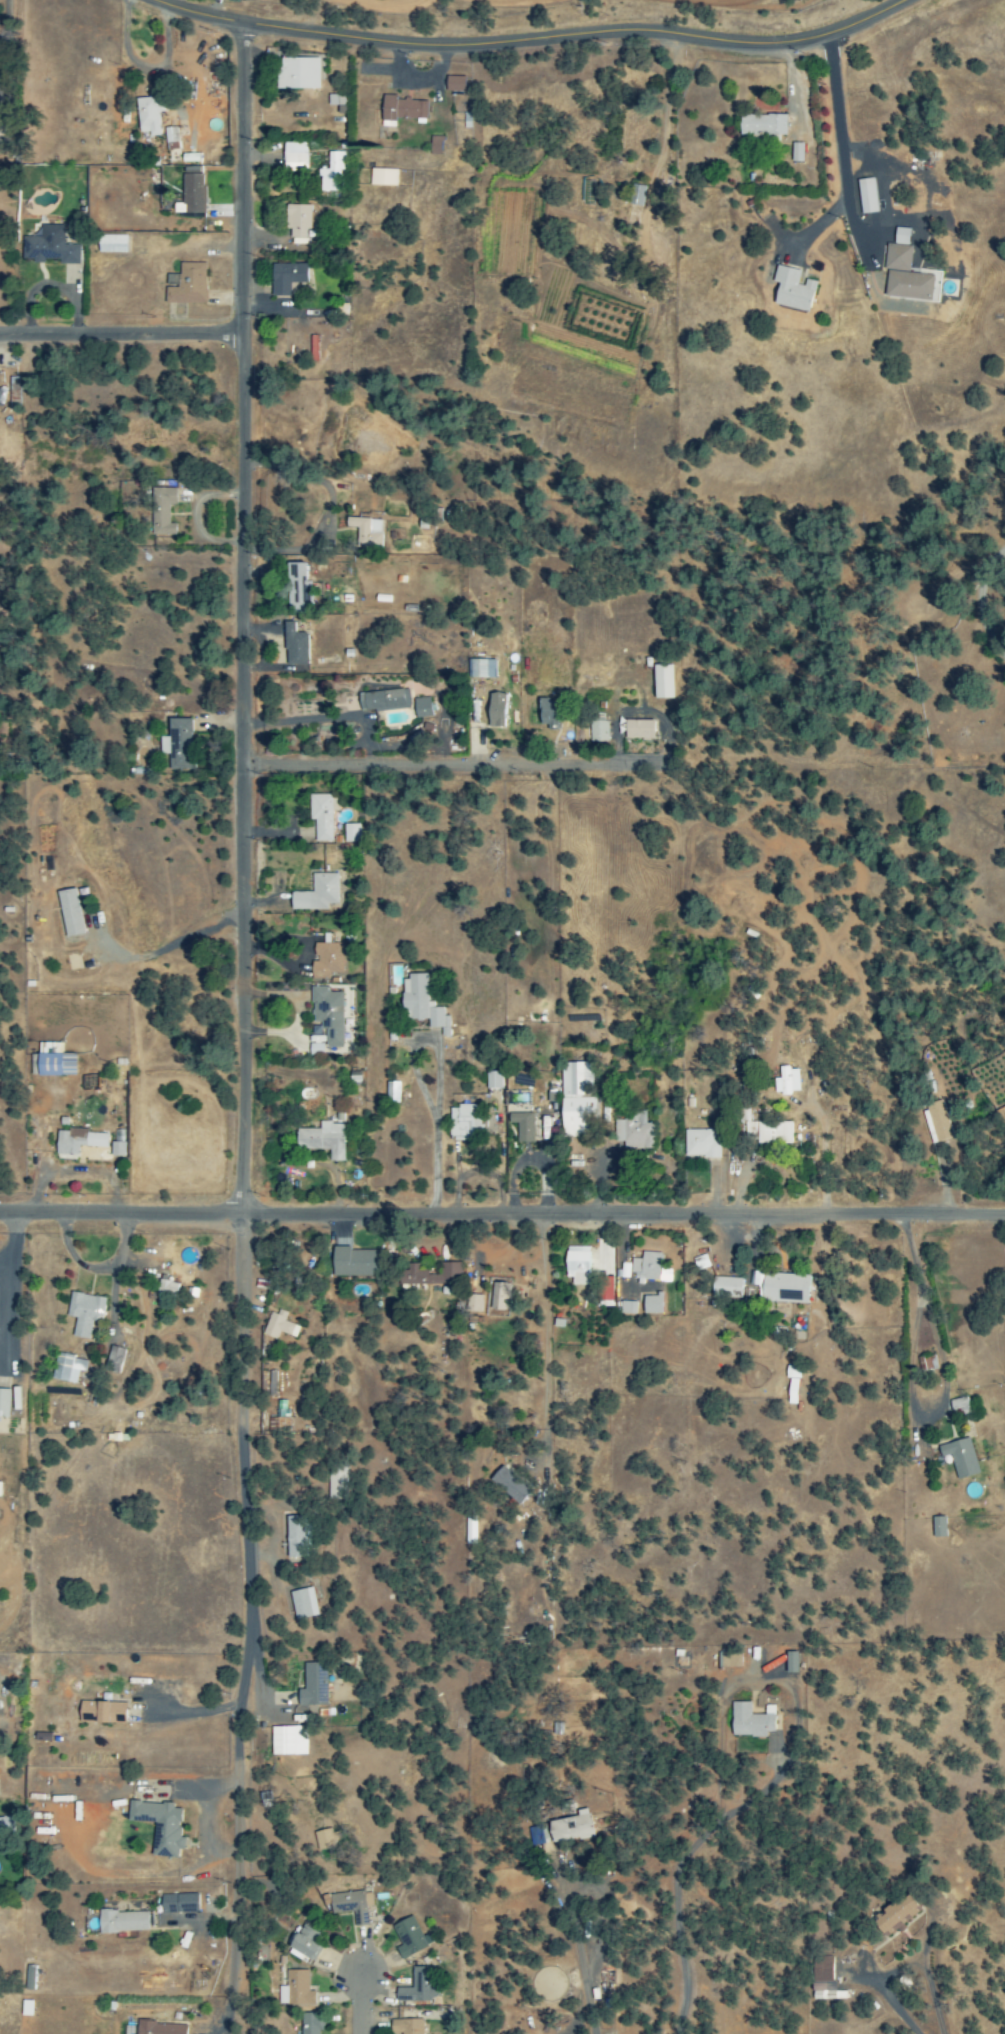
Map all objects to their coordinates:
road: (531, 41)
building: (298, 73)
building: (454, 84)
building: (402, 109)
building: (148, 115)
building: (762, 125)
building: (170, 135)
building: (434, 145)
building: (796, 153)
building: (295, 157)
building: (332, 172)
building: (382, 177)
building: (636, 196)
building: (866, 196)
building: (299, 221)
building: (111, 244)
building: (48, 246)
building: (905, 273)
building: (287, 278)
building: (187, 285)
building: (791, 290)
road: (122, 334)
building: (162, 512)
building: (366, 532)
road: (993, 559)
building: (298, 591)
road: (981, 613)
building: (294, 646)
building: (481, 669)
building: (661, 682)
building: (383, 700)
building: (421, 708)
building: (495, 710)
building: (547, 712)
building: (638, 730)
building: (597, 732)
building: (178, 744)
road: (455, 751)
building: (321, 817)
building: (351, 833)
building: (317, 894)
building: (69, 913)
building: (326, 961)
building: (420, 1003)
building: (326, 1016)
road: (244, 1028)
building: (52, 1062)
building: (493, 1080)
building: (786, 1081)
building: (391, 1092)
building: (576, 1100)
building: (936, 1122)
building: (464, 1123)
building: (523, 1126)
building: (633, 1132)
building: (773, 1133)
building: (77, 1140)
building: (323, 1140)
building: (700, 1145)
building: (116, 1149)
road: (502, 1215)
building: (354, 1262)
building: (576, 1265)
building: (648, 1268)
building: (430, 1276)
building: (780, 1286)
building: (726, 1287)
building: (168, 1288)
road: (918, 1295)
building: (499, 1296)
building: (474, 1304)
building: (652, 1304)
building: (627, 1308)
building: (84, 1313)
building: (278, 1326)
road: (541, 1338)
building: (113, 1359)
building: (67, 1368)
building: (3, 1403)
building: (958, 1406)
building: (959, 1457)
building: (337, 1482)
building: (0, 1484)
building: (509, 1485)
building: (938, 1527)
building: (296, 1536)
building: (302, 1603)
building: (728, 1660)
building: (791, 1662)
building: (313, 1685)
building: (101, 1712)
building: (750, 1721)
building: (287, 1740)
building: (6, 1825)
building: (159, 1826)
building: (571, 1828)
building: (324, 1839)
road: (675, 1879)
building: (178, 1904)
building: (351, 1905)
building: (895, 1915)
building: (122, 1922)
building: (409, 1938)
building: (302, 1945)
building: (822, 1969)
building: (419, 1987)
building: (296, 1989)
building: (824, 1990)
road: (361, 2003)
building: (310, 2023)
building: (406, 2026)
building: (160, 2028)

